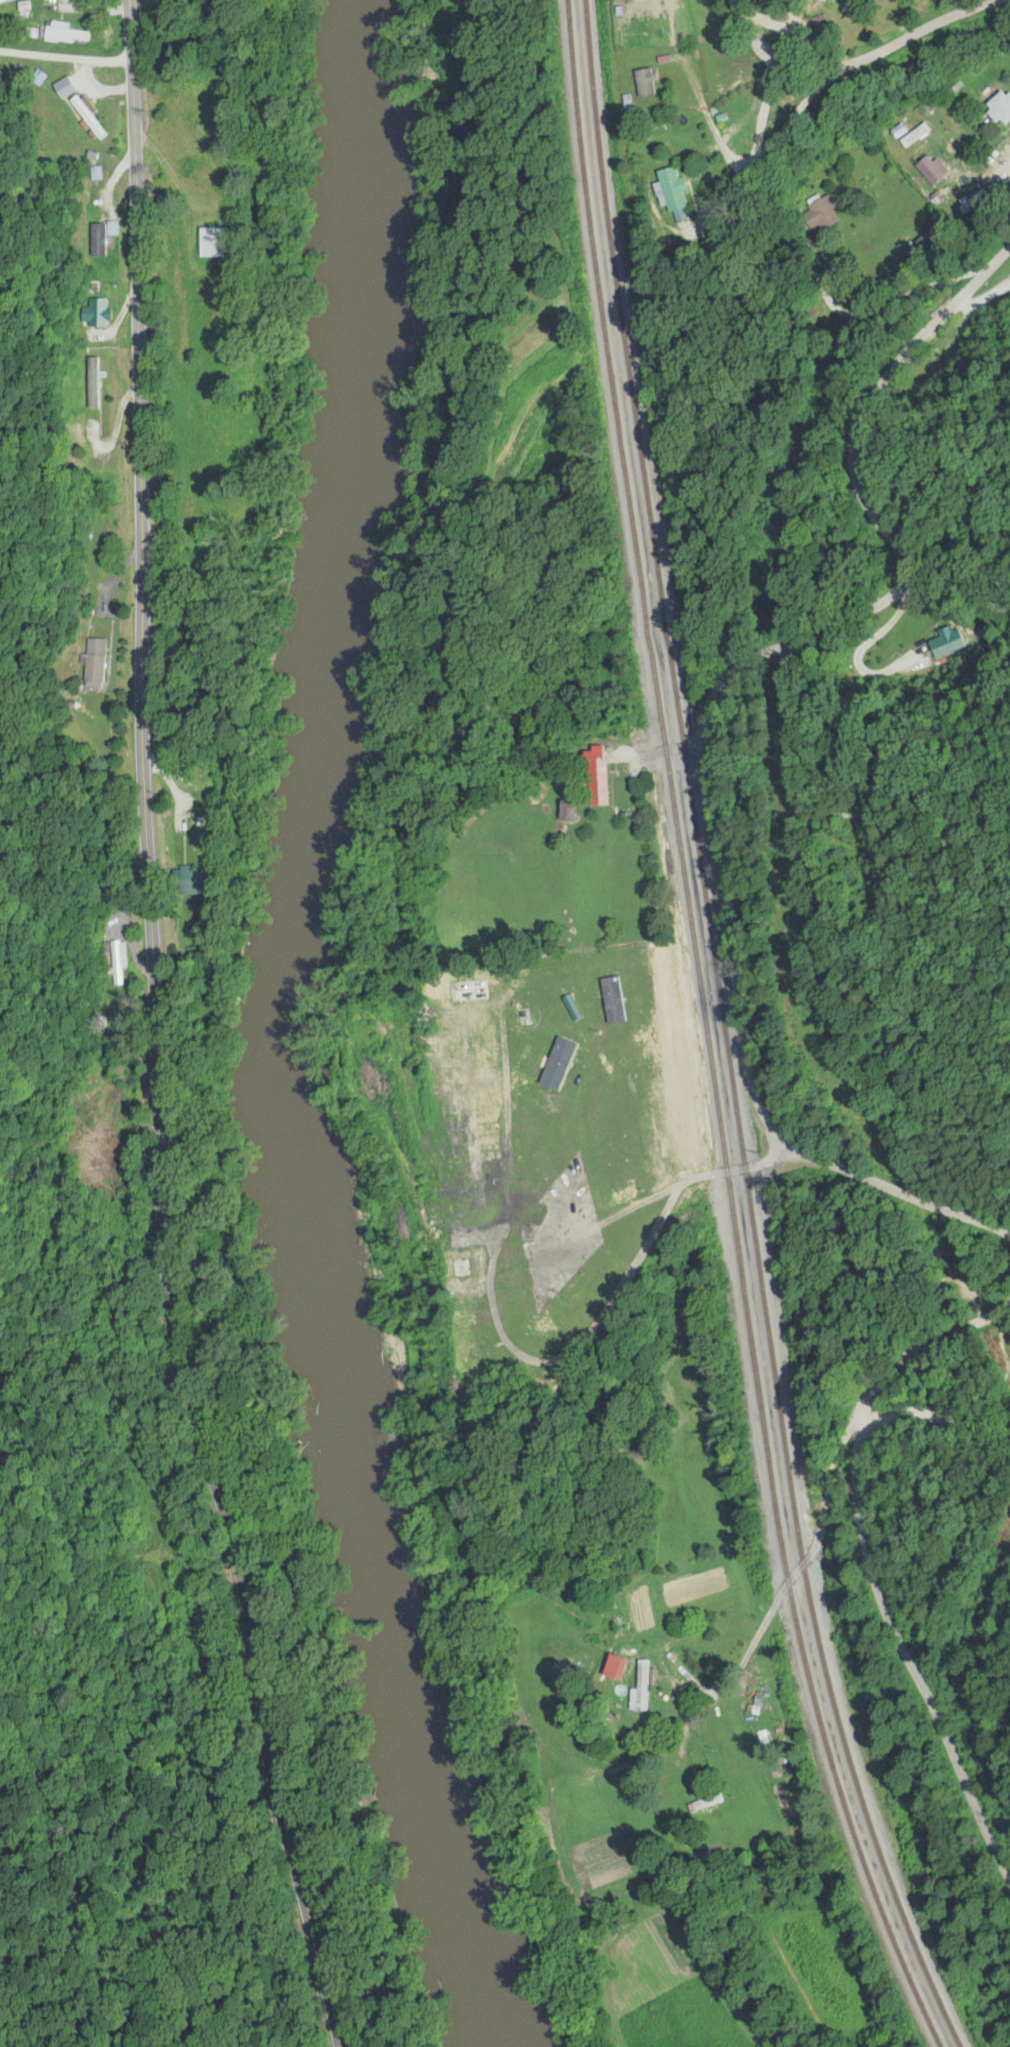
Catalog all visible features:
road: (888, 89)
building: (1002, 107)
building: (932, 171)
building: (673, 190)
building: (948, 643)
building: (601, 776)
railway: (671, 793)
road: (801, 804)
building: (570, 812)
building: (115, 969)
building: (617, 1001)
road: (157, 1033)
railway: (724, 1033)
river: (330, 1040)
building: (489, 1060)
building: (579, 1287)
road: (999, 1368)
road: (999, 1413)
road: (877, 1588)
road: (785, 1589)
building: (645, 1680)

